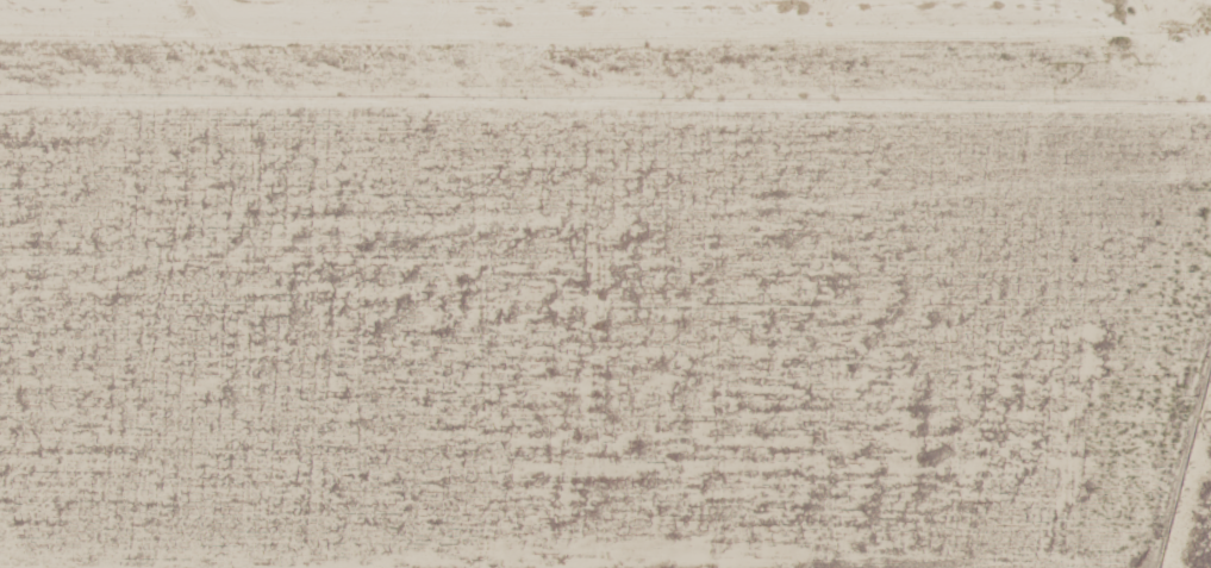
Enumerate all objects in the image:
road: (605, 19)

